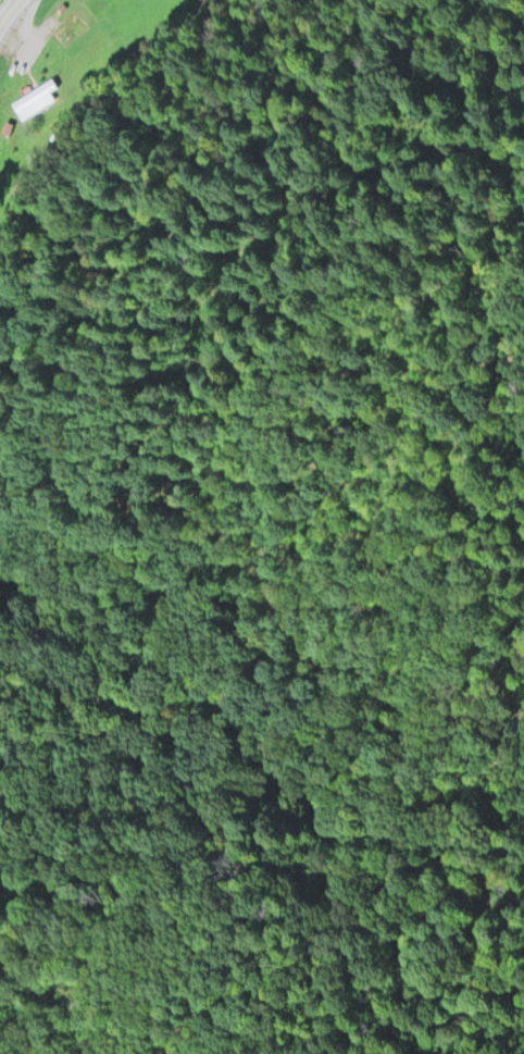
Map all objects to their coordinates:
road: (10, 13)
building: (72, 17)
building: (35, 97)

